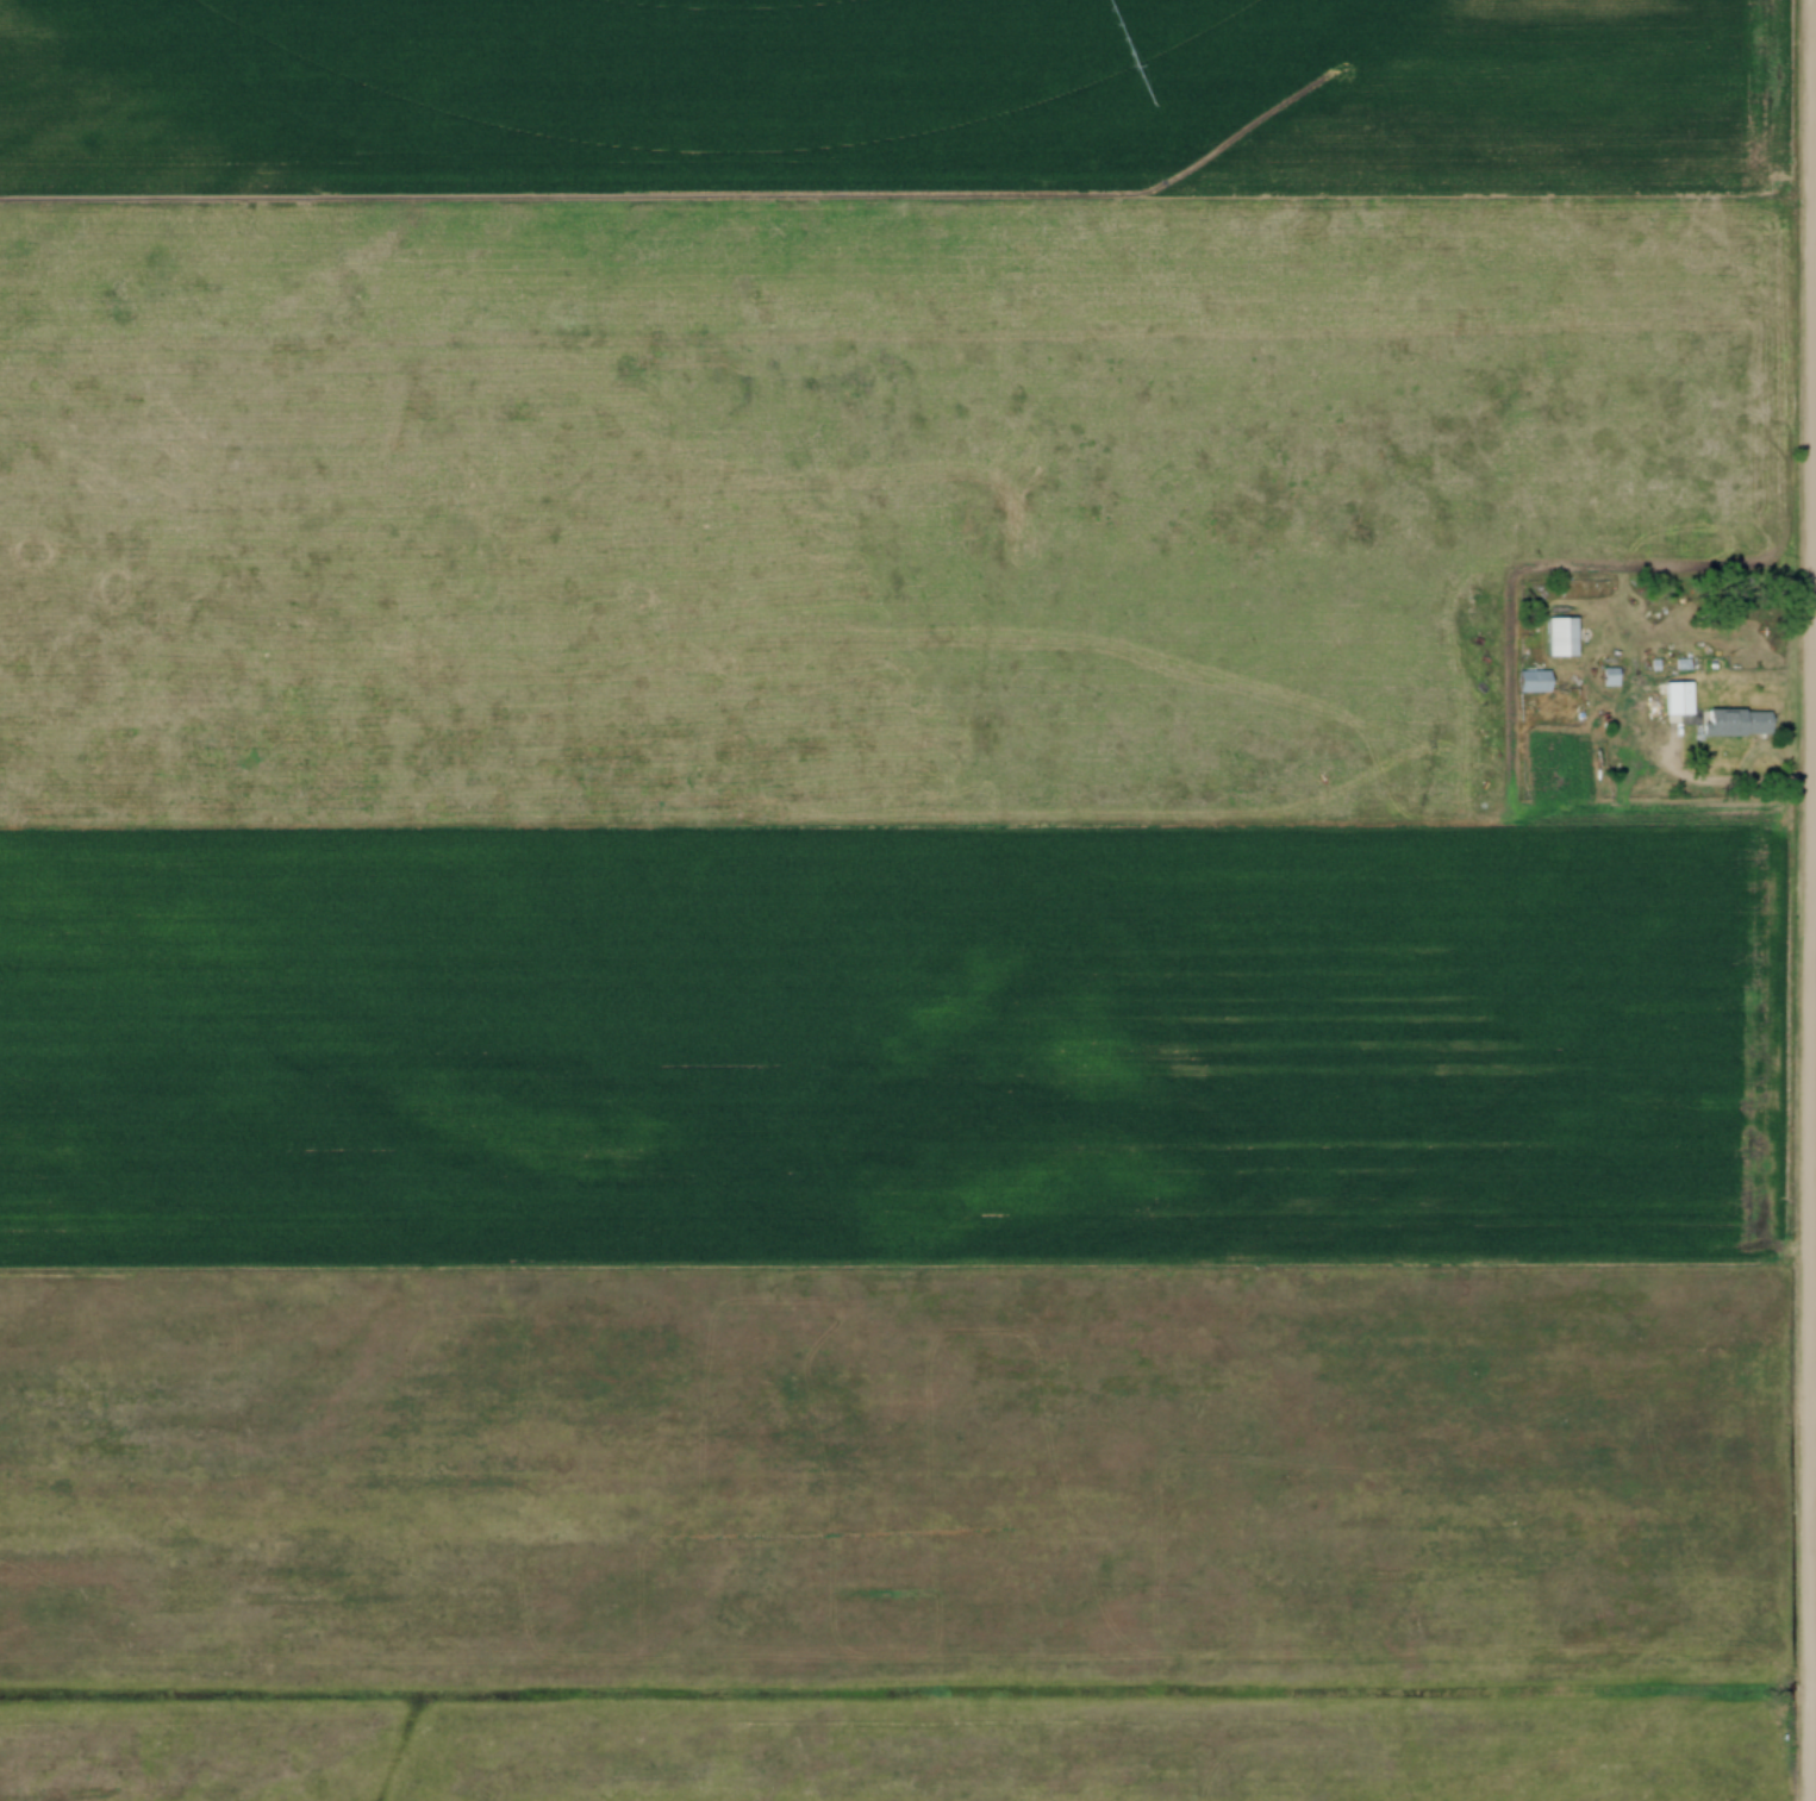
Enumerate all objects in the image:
road: (1815, 219)
building: (1558, 637)
building: (1531, 682)
building: (1675, 700)
building: (1734, 723)
road: (1721, 780)
road: (1814, 900)
road: (1812, 1393)

